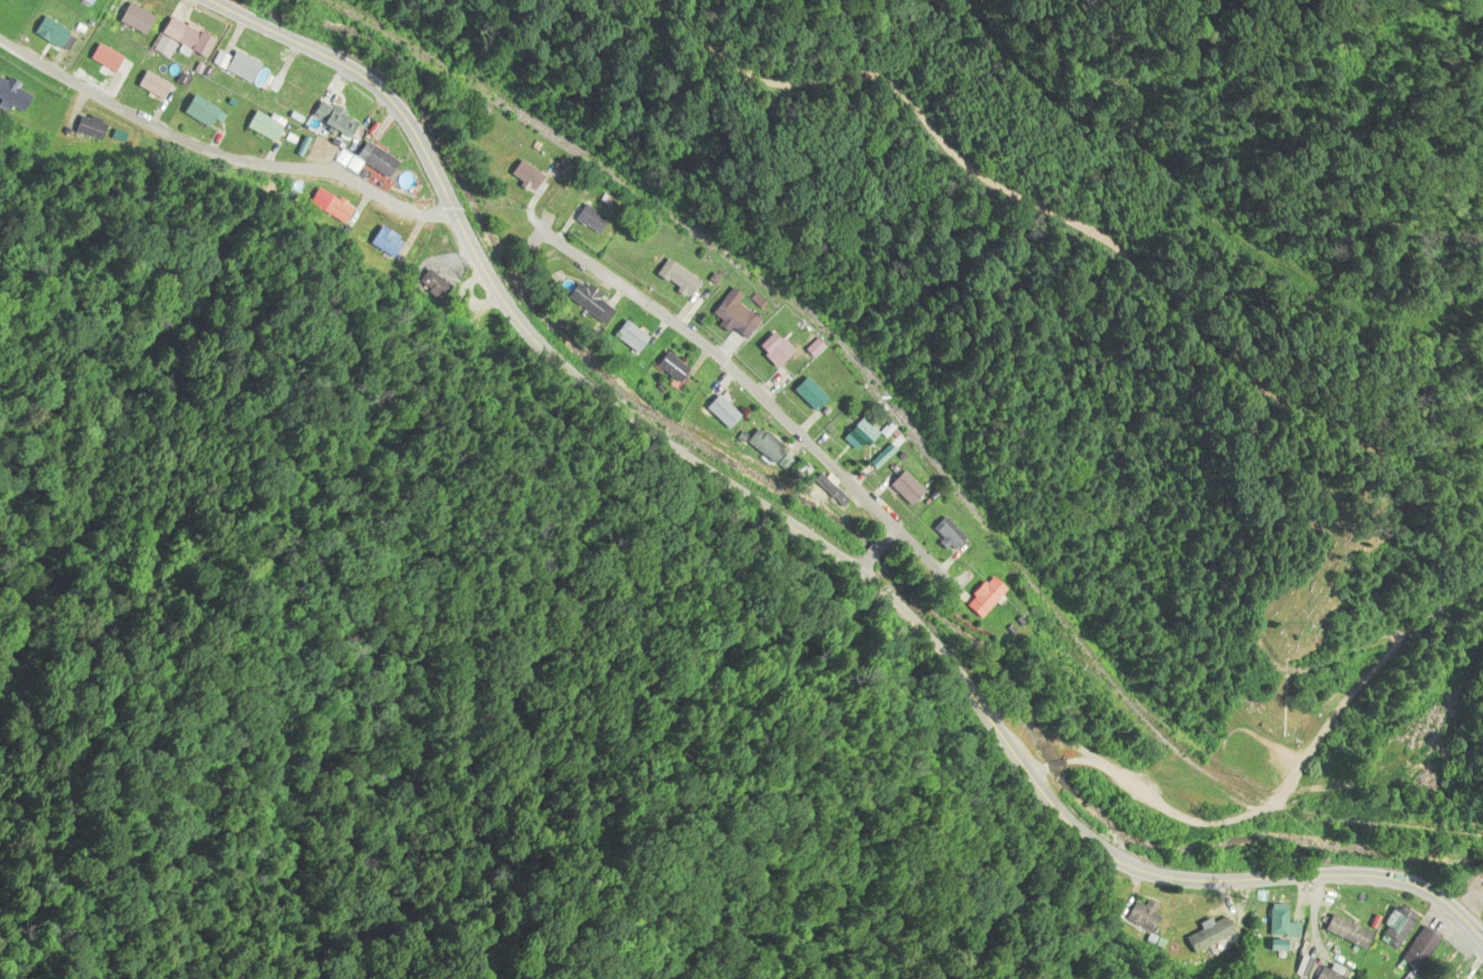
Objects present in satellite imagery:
building: (84, 2)
building: (132, 19)
building: (47, 33)
building: (178, 40)
building: (102, 59)
building: (238, 67)
building: (149, 86)
building: (280, 90)
building: (11, 96)
building: (196, 111)
building: (330, 120)
building: (88, 124)
building: (260, 127)
road: (219, 146)
building: (370, 161)
building: (522, 175)
building: (334, 210)
building: (587, 220)
building: (385, 243)
building: (679, 281)
building: (431, 282)
building: (586, 303)
building: (730, 315)
building: (627, 337)
building: (811, 349)
building: (771, 350)
building: (667, 367)
building: (806, 395)
building: (718, 412)
road: (782, 423)
railway: (910, 434)
building: (849, 439)
building: (761, 446)
building: (904, 488)
building: (827, 490)
building: (946, 534)
road: (812, 544)
road: (870, 548)
building: (981, 598)
road: (1295, 773)
building: (1279, 923)
building: (1395, 928)
building: (1343, 929)
building: (1208, 936)
building: (1418, 949)
building: (1422, 978)

